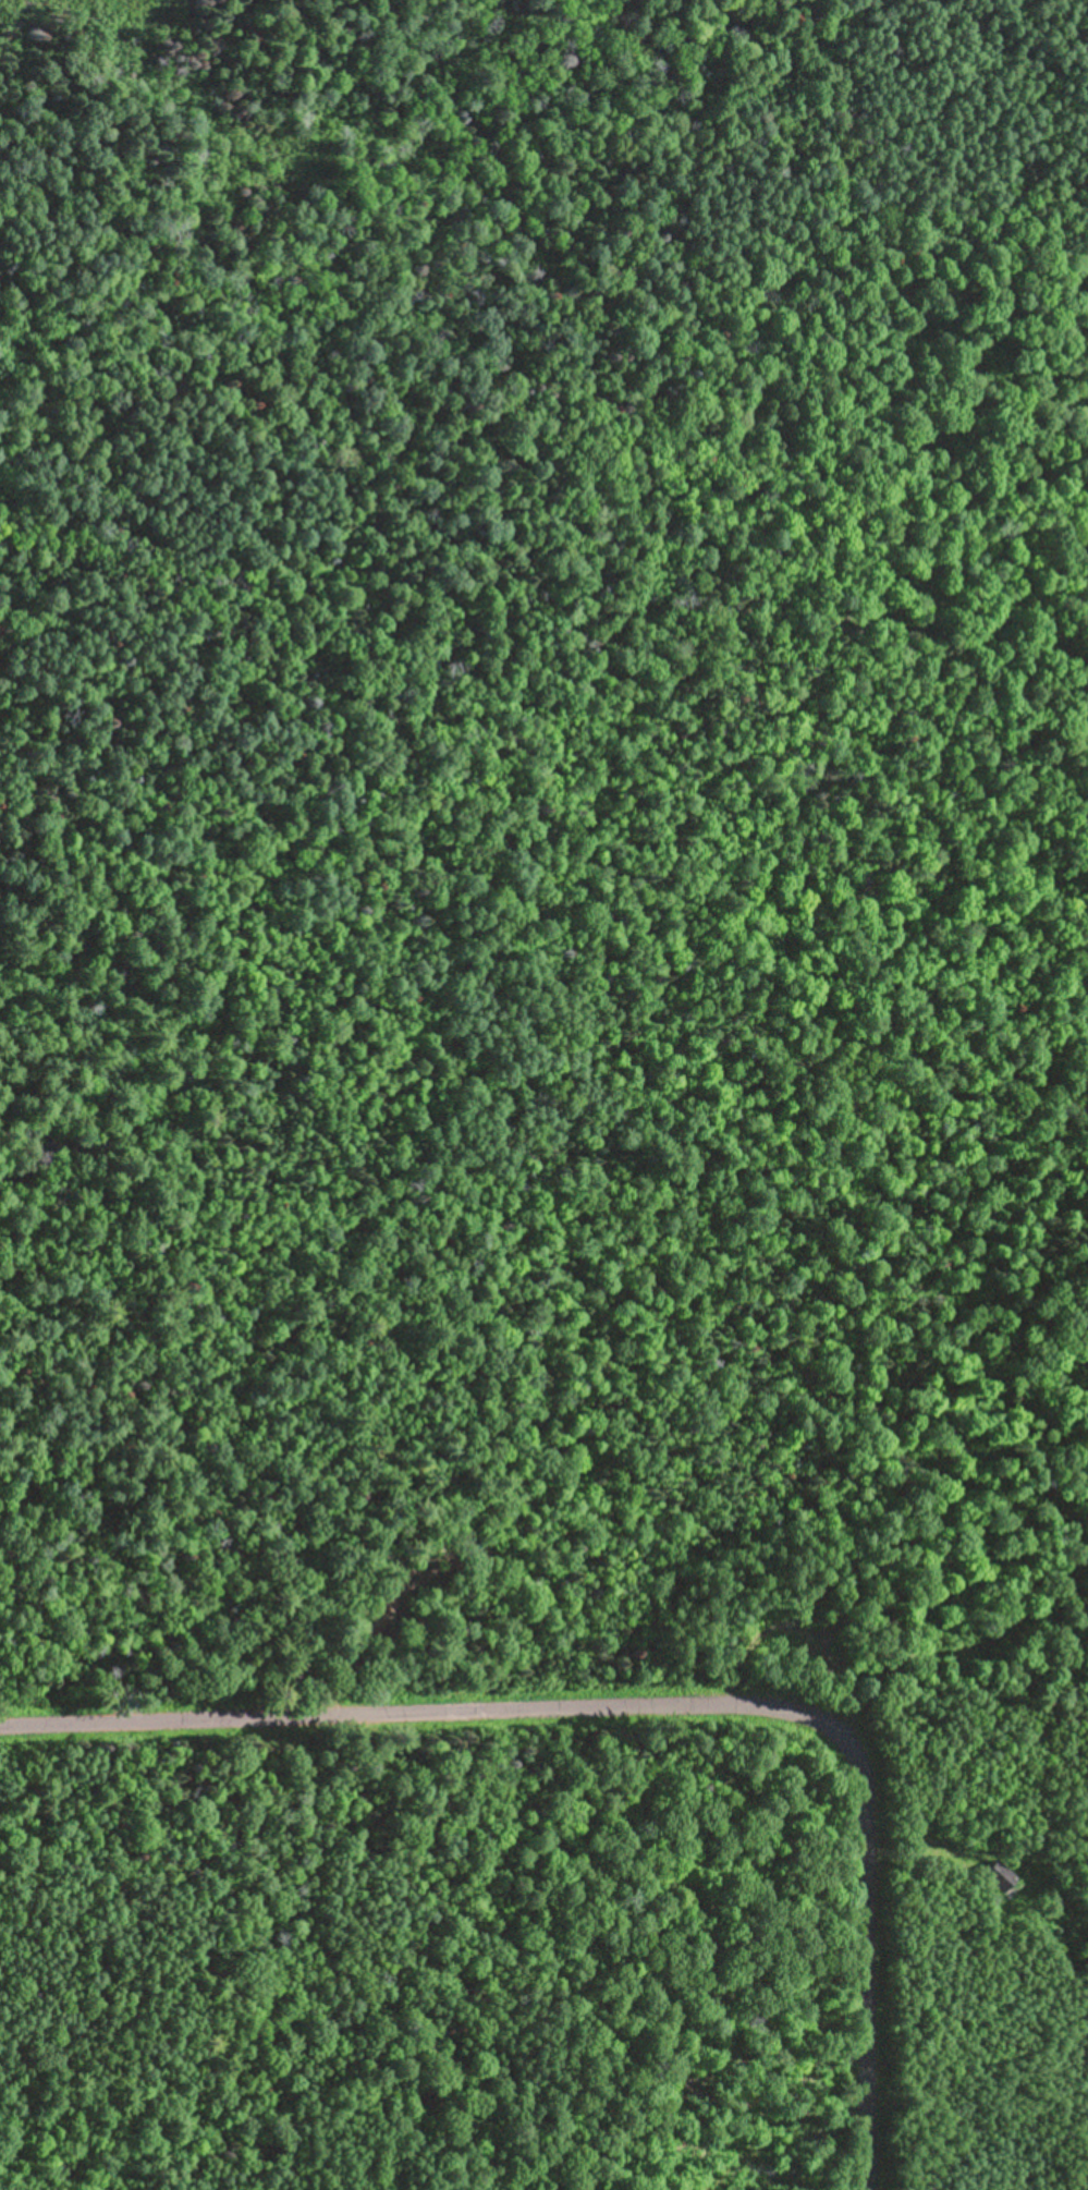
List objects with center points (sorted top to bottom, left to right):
road: (656, 1704)
building: (999, 1875)

